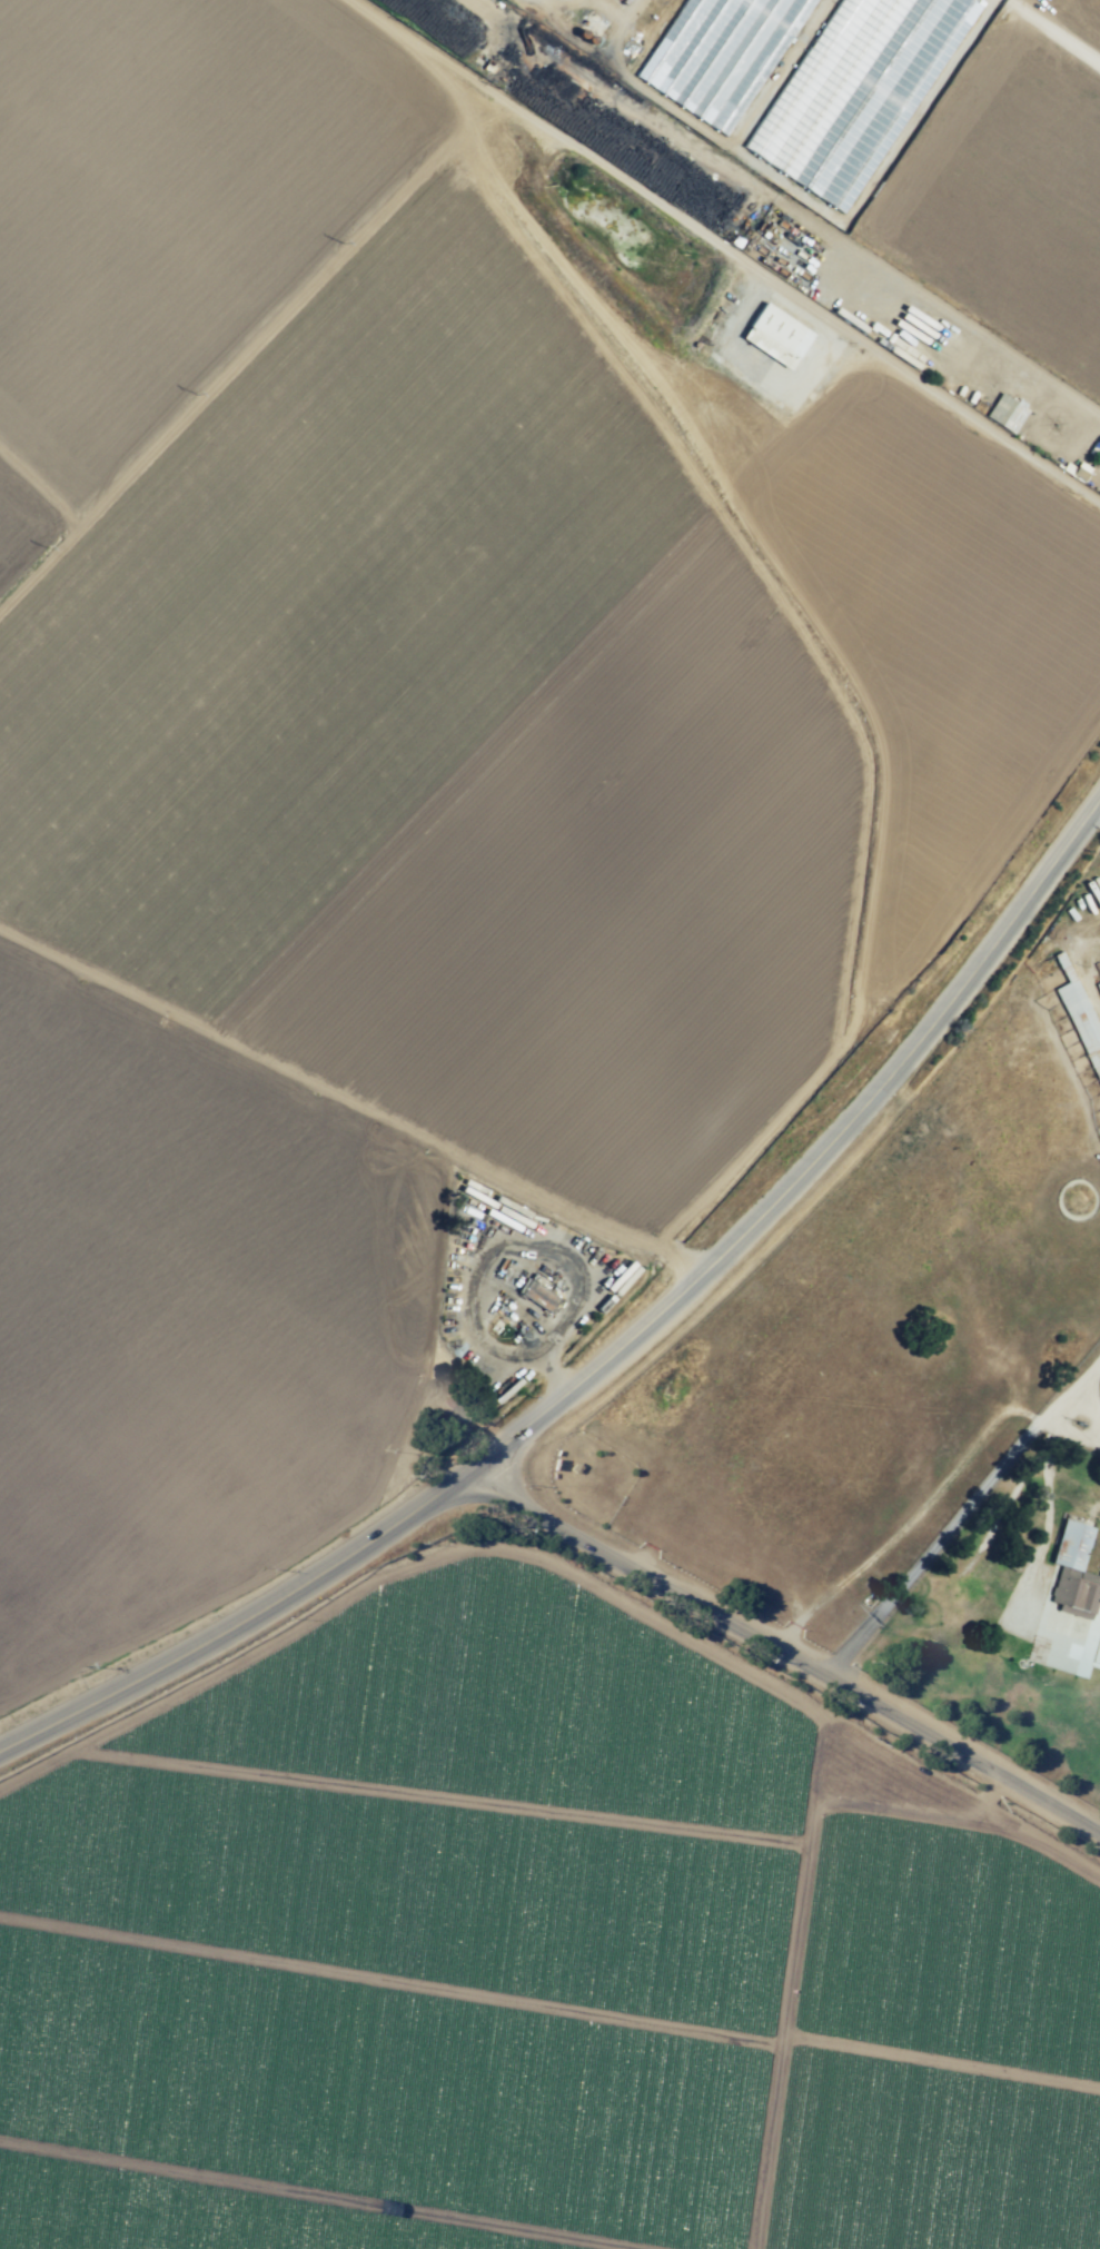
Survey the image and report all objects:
building: (803, 101)
crop: (923, 139)
building: (776, 335)
building: (1005, 413)
crop: (416, 775)
building: (1098, 984)
building: (1082, 1017)
building: (538, 1296)
road: (614, 1350)
road: (953, 1524)
building: (1074, 1572)
road: (789, 1653)
building: (1098, 1656)
crop: (523, 1960)

